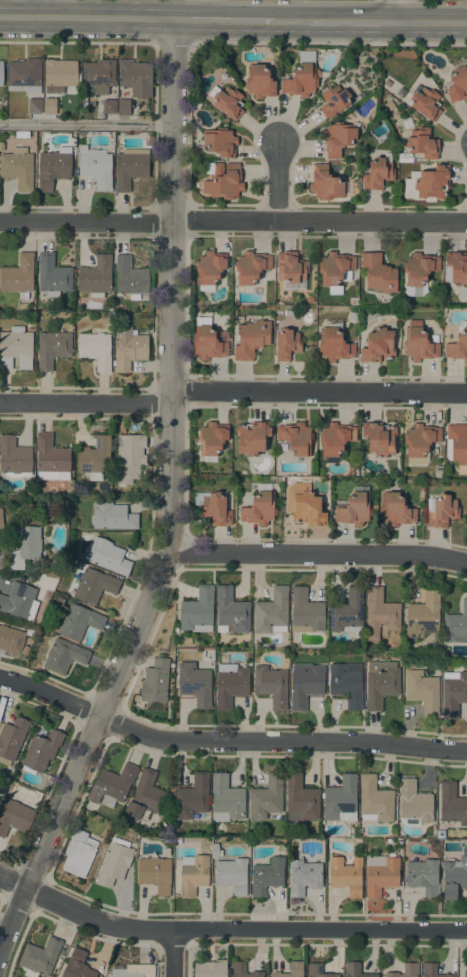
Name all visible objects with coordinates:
road: (64, 8)
road: (394, 10)
road: (86, 17)
road: (224, 19)
road: (292, 19)
road: (352, 19)
road: (430, 20)
road: (77, 42)
road: (173, 43)
road: (329, 44)
building: (1, 73)
building: (24, 75)
building: (60, 75)
building: (98, 75)
building: (135, 77)
building: (302, 77)
building: (259, 81)
building: (458, 81)
building: (333, 100)
building: (227, 101)
building: (425, 102)
building: (34, 106)
building: (49, 106)
building: (109, 106)
building: (123, 107)
road: (86, 123)
building: (338, 138)
building: (220, 142)
building: (423, 143)
building: (53, 167)
building: (96, 167)
building: (18, 168)
building: (129, 168)
building: (378, 172)
building: (223, 180)
road: (276, 180)
building: (433, 182)
building: (328, 183)
road: (319, 220)
road: (85, 222)
building: (251, 266)
building: (290, 267)
building: (209, 269)
building: (336, 270)
building: (456, 270)
building: (419, 272)
building: (378, 273)
building: (52, 275)
building: (95, 275)
building: (18, 276)
building: (130, 278)
building: (2, 297)
building: (434, 338)
building: (251, 339)
building: (207, 340)
building: (334, 342)
building: (418, 343)
building: (287, 344)
building: (458, 344)
building: (378, 345)
building: (16, 348)
building: (51, 348)
building: (128, 348)
building: (95, 349)
road: (318, 390)
road: (85, 402)
building: (212, 437)
building: (296, 437)
building: (336, 438)
building: (379, 438)
building: (252, 439)
building: (420, 439)
building: (457, 443)
building: (14, 458)
building: (95, 458)
building: (51, 459)
building: (131, 459)
building: (438, 473)
road: (169, 498)
building: (304, 505)
building: (354, 507)
building: (259, 508)
building: (215, 509)
building: (396, 510)
building: (441, 510)
building: (113, 516)
building: (1, 522)
building: (24, 546)
road: (314, 553)
building: (108, 556)
building: (94, 585)
building: (19, 601)
building: (197, 611)
building: (231, 611)
building: (271, 611)
building: (305, 611)
building: (347, 611)
building: (380, 613)
building: (422, 615)
building: (72, 619)
building: (456, 625)
building: (11, 640)
building: (64, 656)
building: (155, 681)
building: (346, 683)
building: (381, 683)
building: (194, 684)
building: (230, 684)
building: (305, 684)
building: (271, 685)
building: (422, 691)
building: (453, 693)
road: (50, 694)
building: (12, 739)
road: (280, 740)
building: (41, 751)
building: (112, 785)
building: (145, 795)
building: (192, 797)
building: (266, 797)
building: (226, 799)
building: (300, 799)
building: (340, 799)
building: (375, 800)
building: (414, 802)
building: (452, 804)
building: (16, 817)
building: (440, 834)
building: (215, 850)
building: (79, 853)
building: (114, 862)
building: (155, 873)
building: (380, 874)
building: (193, 875)
building: (232, 875)
building: (346, 875)
building: (267, 876)
building: (423, 876)
building: (454, 876)
building: (303, 877)
road: (228, 928)
road: (171, 952)
building: (39, 957)
building: (77, 964)
building: (210, 969)
building: (242, 970)
building: (290, 970)
building: (356, 970)
building: (466, 970)
building: (135, 971)
building: (318, 971)
building: (405, 971)
building: (432, 971)

